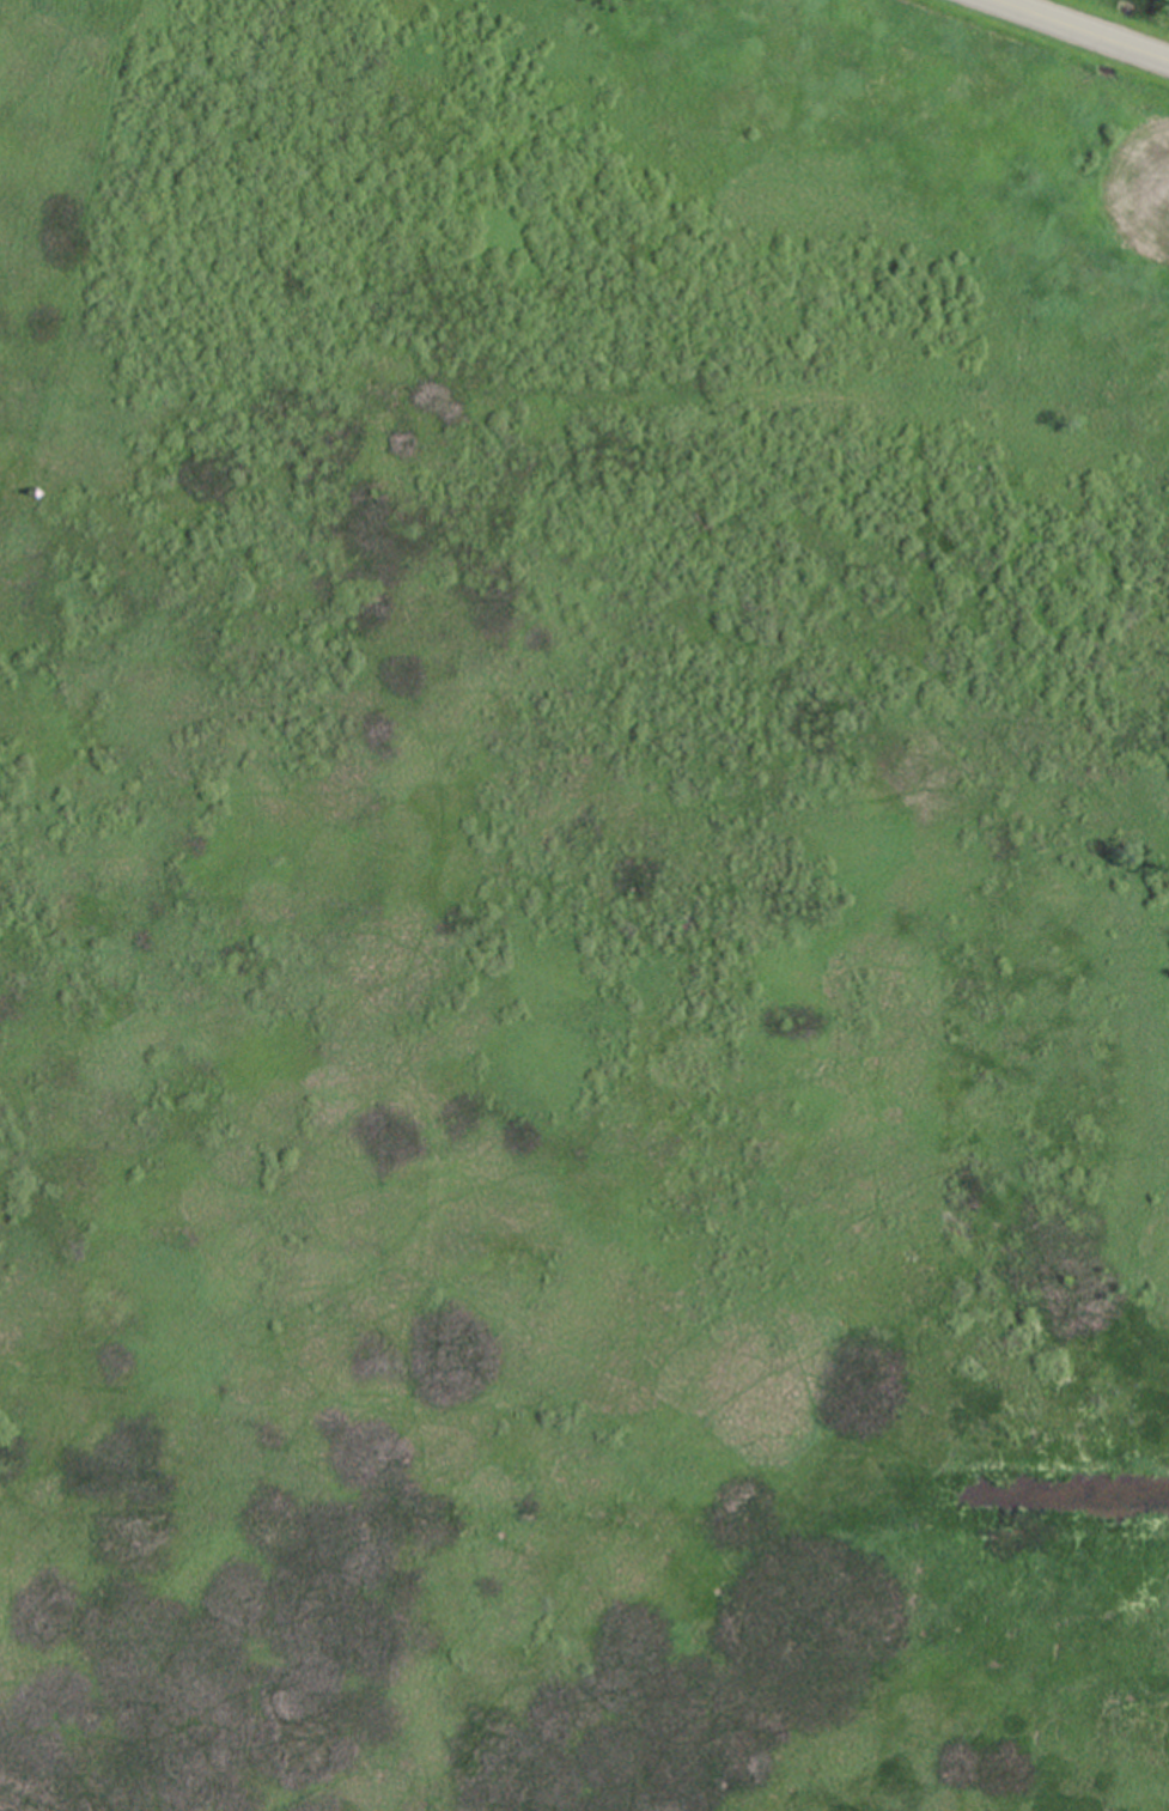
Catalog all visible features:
road: (1082, 30)

